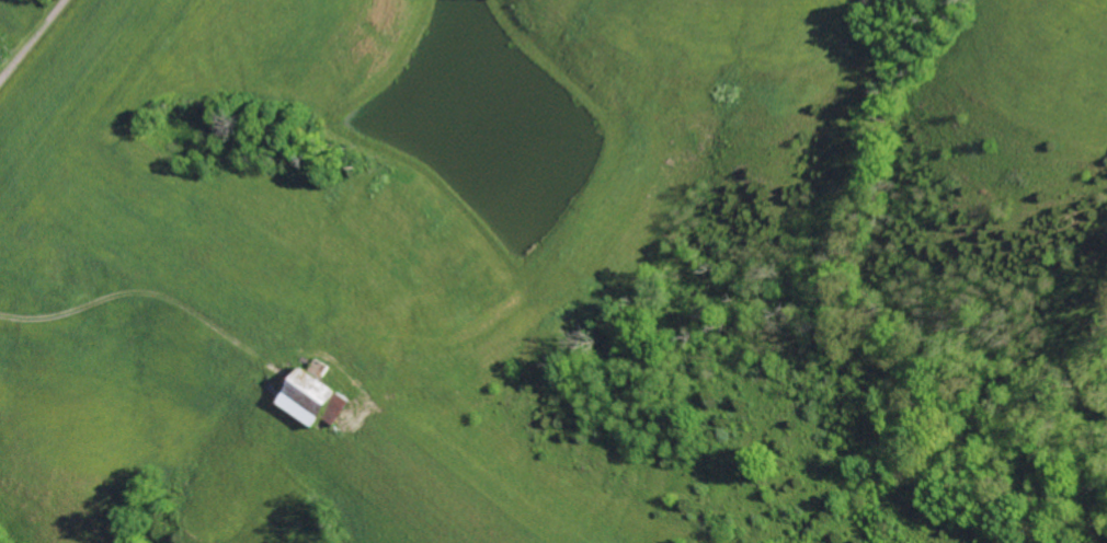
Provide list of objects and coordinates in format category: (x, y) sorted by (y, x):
road: (34, 44)
building: (311, 396)

